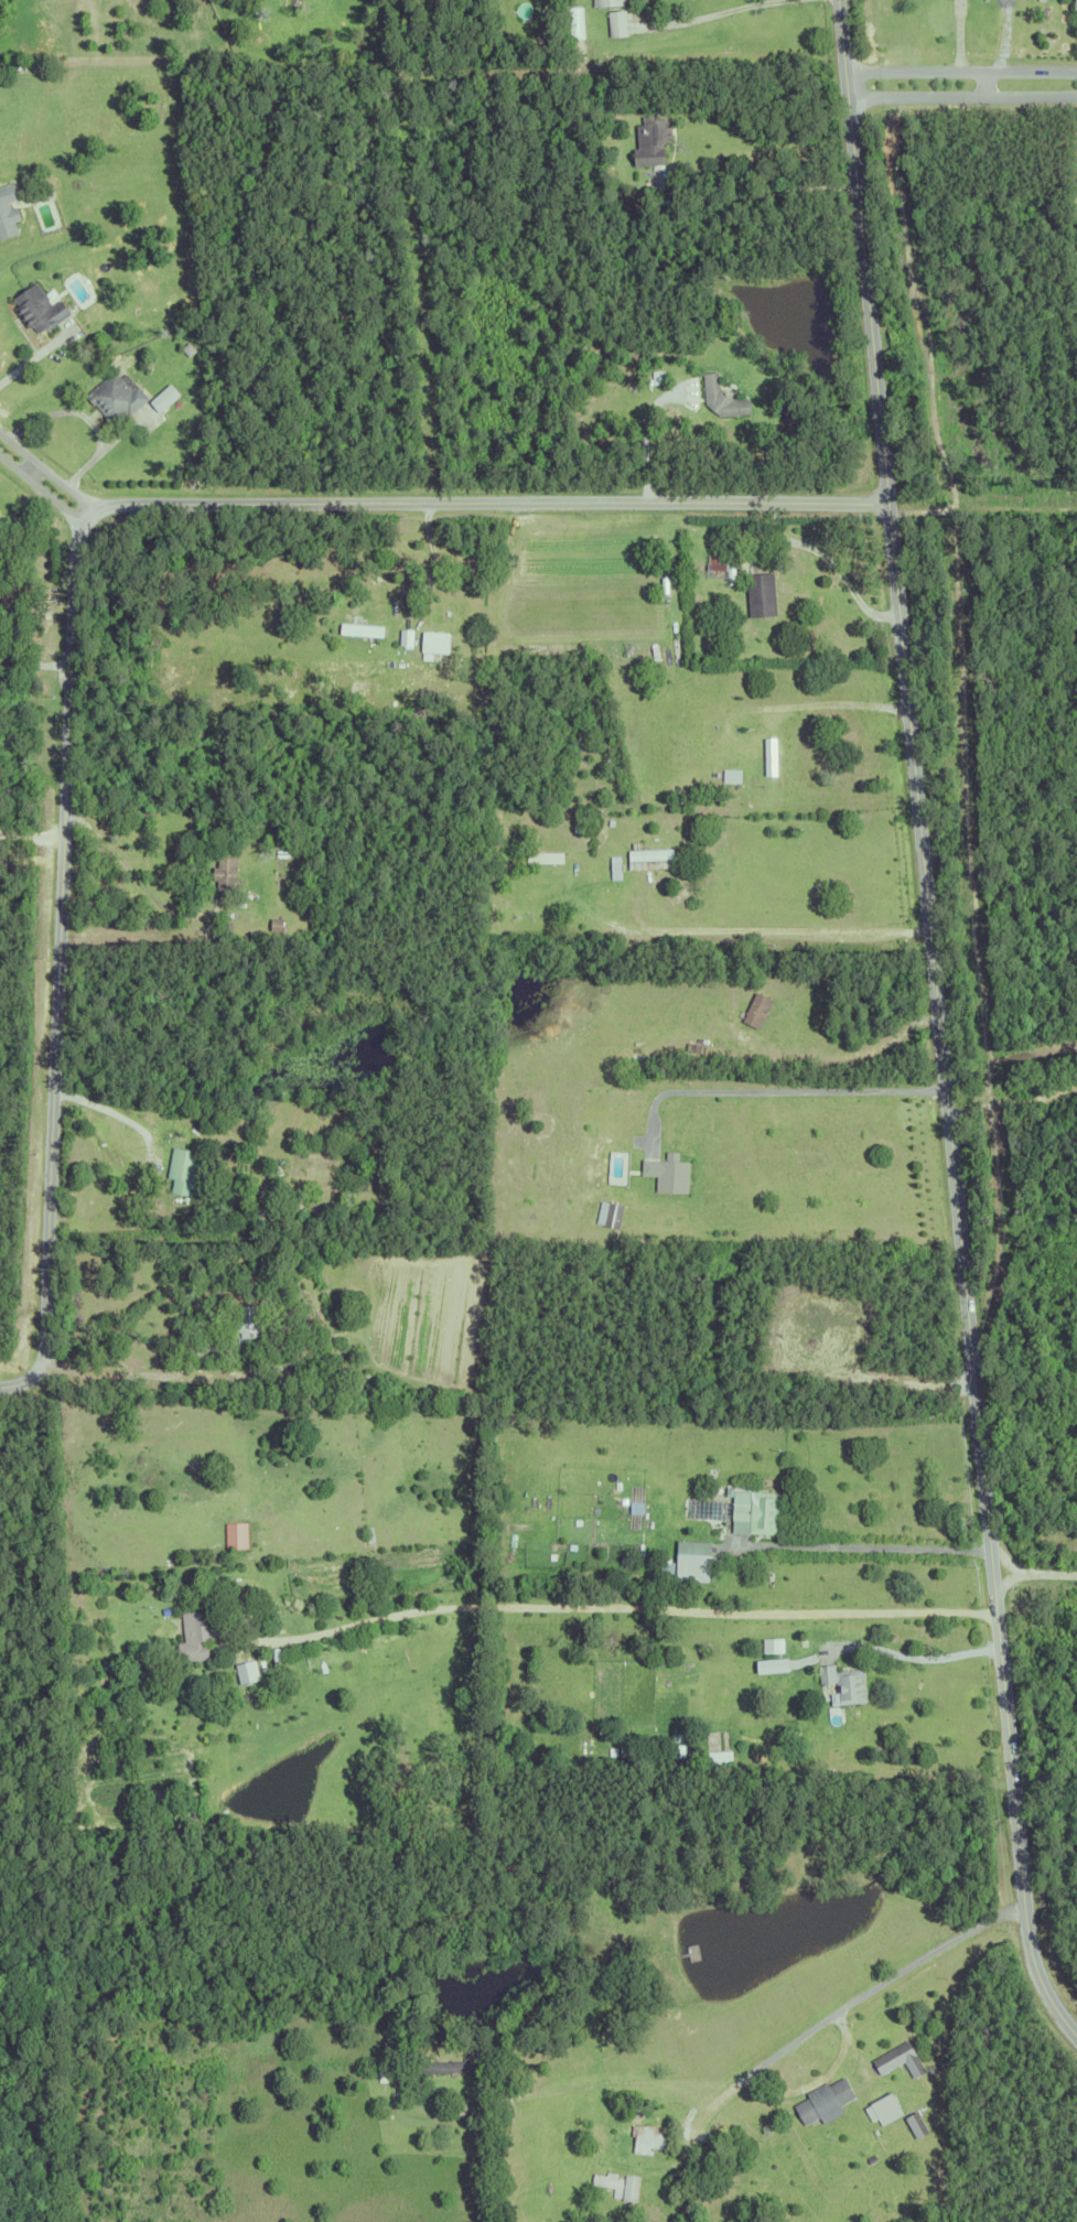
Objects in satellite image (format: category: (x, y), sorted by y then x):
building: (605, 1)
building: (1074, 3)
road: (720, 11)
building: (615, 21)
road: (961, 69)
road: (962, 95)
building: (631, 97)
building: (649, 139)
building: (7, 209)
building: (72, 279)
building: (37, 308)
road: (25, 358)
building: (114, 396)
building: (720, 396)
building: (169, 399)
building: (787, 414)
road: (84, 416)
building: (795, 423)
road: (644, 439)
road: (44, 483)
road: (77, 567)
building: (717, 567)
building: (760, 594)
building: (359, 628)
building: (405, 637)
building: (432, 640)
road: (33, 661)
road: (764, 705)
building: (768, 755)
building: (557, 857)
building: (647, 857)
building: (613, 866)
building: (618, 867)
building: (223, 873)
road: (136, 884)
road: (777, 928)
building: (753, 1010)
road: (939, 1024)
building: (691, 1053)
building: (637, 1066)
road: (778, 1088)
road: (1014, 1098)
road: (109, 1111)
building: (183, 1172)
building: (666, 1175)
building: (607, 1214)
building: (271, 1216)
building: (297, 1307)
building: (245, 1322)
building: (304, 1327)
road: (119, 1381)
building: (753, 1511)
building: (235, 1535)
road: (870, 1545)
building: (303, 1566)
building: (690, 1570)
road: (1034, 1573)
building: (274, 1592)
road: (646, 1607)
building: (164, 1611)
building: (195, 1635)
road: (257, 1642)
building: (775, 1647)
road: (918, 1657)
building: (778, 1667)
building: (224, 1668)
building: (100, 1670)
building: (250, 1672)
building: (842, 1683)
building: (71, 1691)
road: (859, 1999)
building: (477, 2049)
building: (897, 2056)
building: (441, 2062)
road: (549, 2088)
building: (822, 2099)
building: (882, 2106)
building: (915, 2121)
building: (645, 2136)
building: (870, 2156)
building: (606, 2180)
building: (628, 2185)

